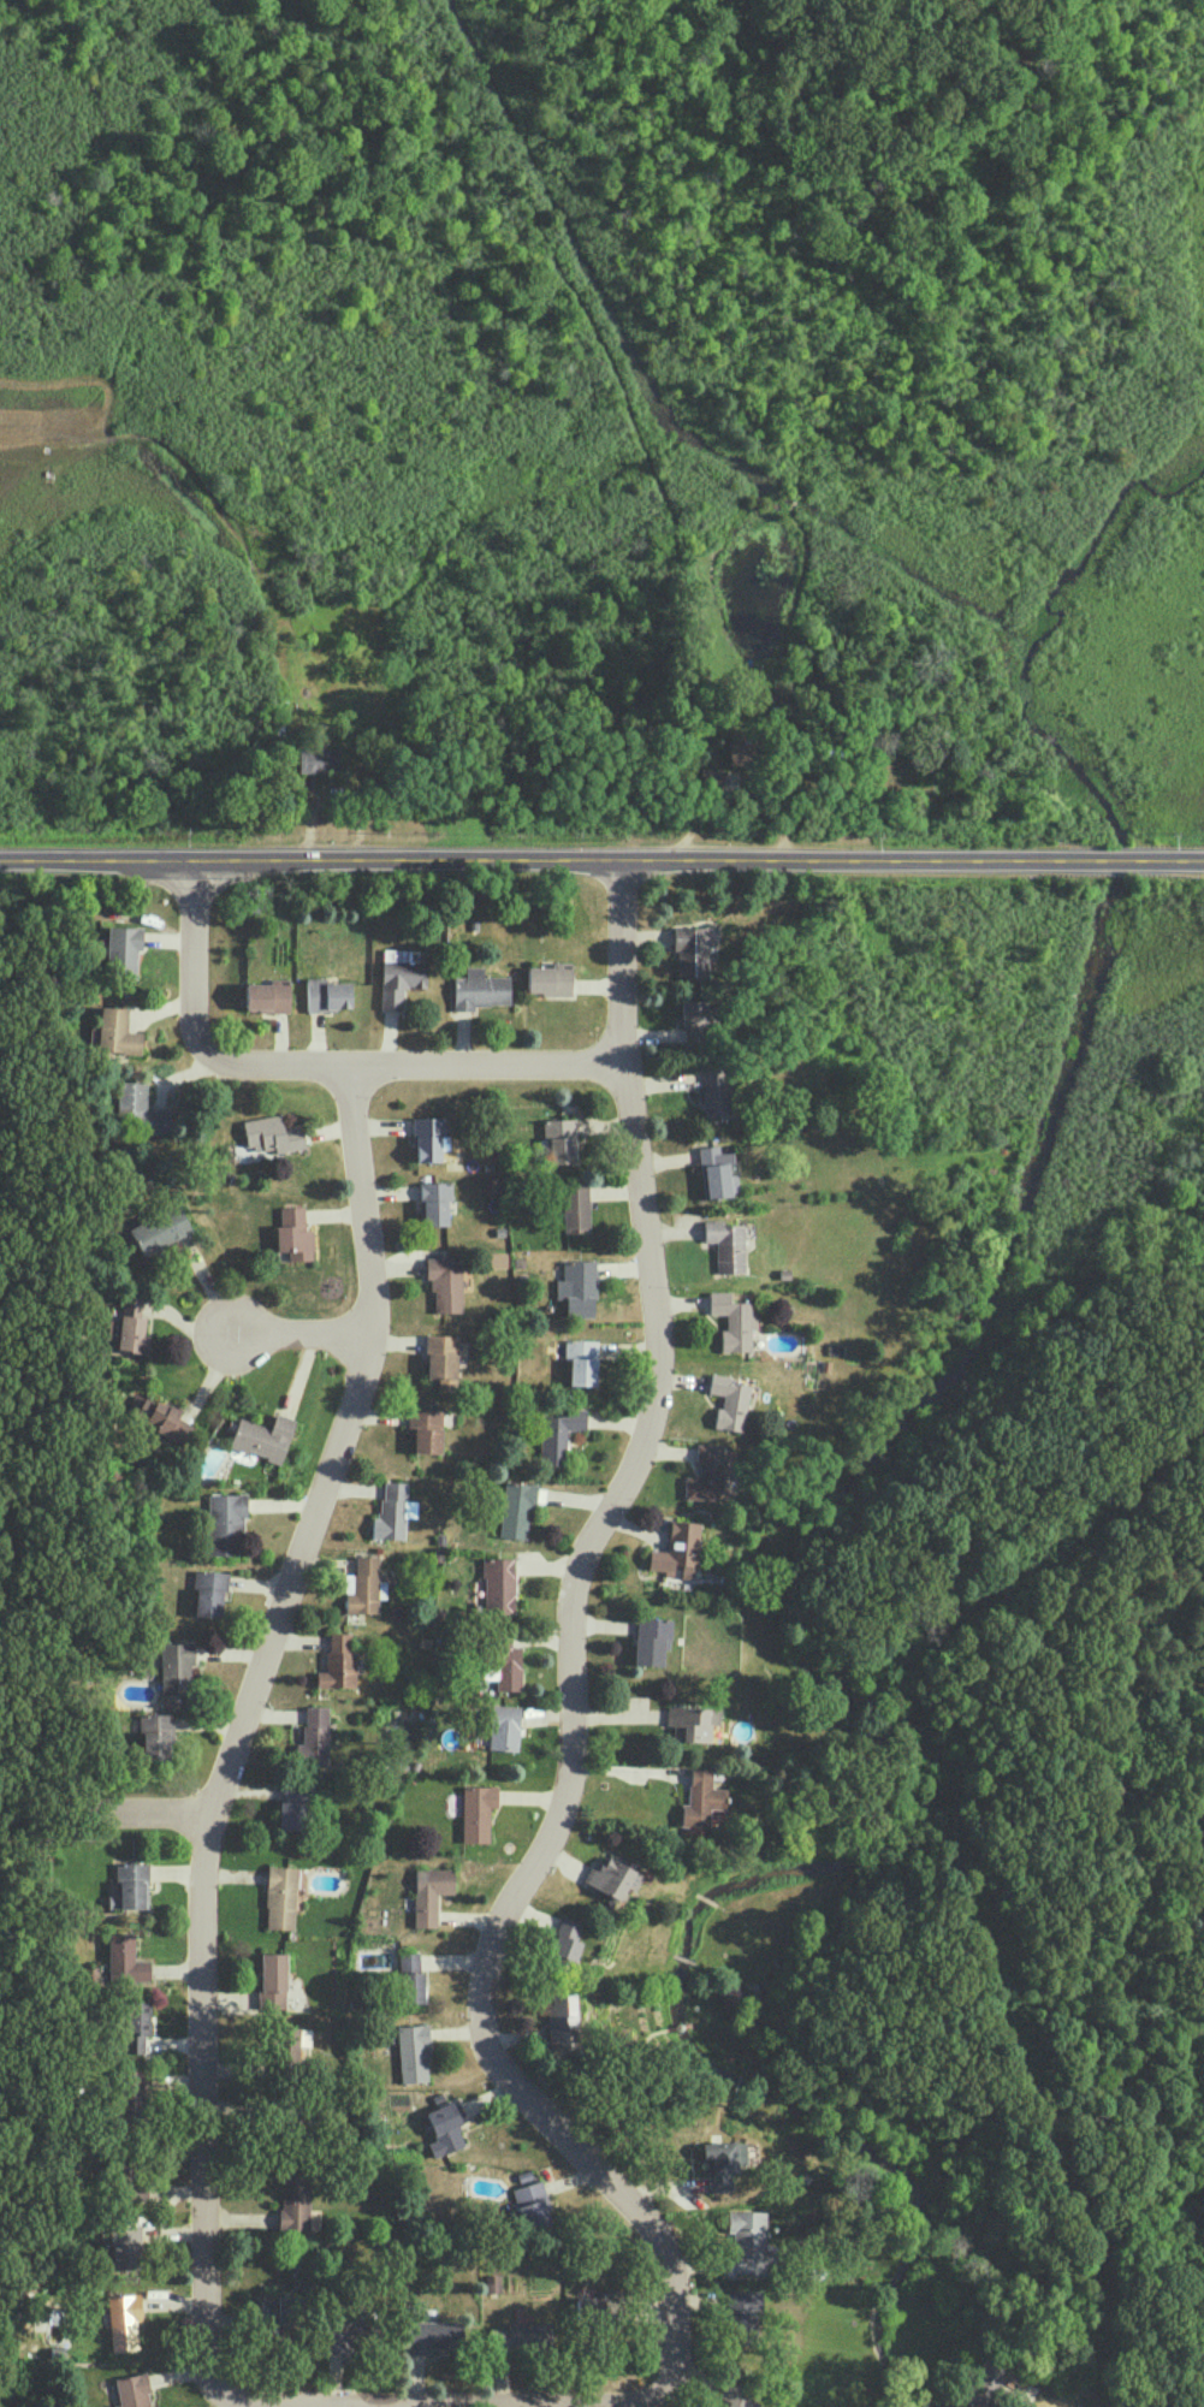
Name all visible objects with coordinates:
building: (318, 759)
road: (739, 793)
road: (601, 858)
building: (123, 950)
building: (690, 951)
building: (399, 974)
building: (479, 989)
building: (327, 994)
building: (115, 1031)
road: (313, 1068)
building: (140, 1109)
building: (272, 1133)
building: (428, 1137)
building: (559, 1138)
building: (433, 1200)
building: (575, 1207)
building: (158, 1228)
building: (293, 1233)
building: (725, 1245)
building: (497, 1258)
building: (445, 1283)
building: (576, 1287)
building: (733, 1320)
building: (130, 1324)
road: (301, 1332)
building: (441, 1359)
building: (580, 1360)
building: (728, 1400)
building: (158, 1417)
building: (425, 1429)
building: (557, 1434)
building: (262, 1436)
building: (705, 1472)
building: (516, 1508)
building: (392, 1511)
building: (225, 1522)
building: (676, 1549)
building: (363, 1585)
building: (498, 1585)
building: (209, 1591)
building: (651, 1640)
building: (338, 1661)
building: (504, 1661)
road: (570, 1665)
building: (176, 1666)
building: (692, 1721)
road: (241, 1724)
building: (503, 1726)
building: (155, 1735)
building: (313, 1736)
building: (700, 1797)
building: (291, 1804)
building: (476, 1810)
road: (134, 1812)
building: (611, 1877)
building: (130, 1886)
building: (429, 1892)
building: (279, 1896)
building: (565, 1938)
building: (125, 1958)
building: (409, 1976)
building: (272, 1980)
building: (558, 2017)
building: (135, 2024)
building: (290, 2041)
building: (413, 2052)
building: (132, 2094)
building: (445, 2127)
building: (720, 2162)
building: (293, 2201)
building: (530, 2205)
building: (747, 2242)
building: (125, 2247)
building: (492, 2282)
building: (599, 2306)
building: (741, 2311)
building: (277, 2312)
building: (123, 2320)
building: (345, 2334)
building: (431, 2335)
building: (520, 2336)
building: (132, 2390)
building: (734, 2395)
road: (241, 2402)
road: (594, 2405)

